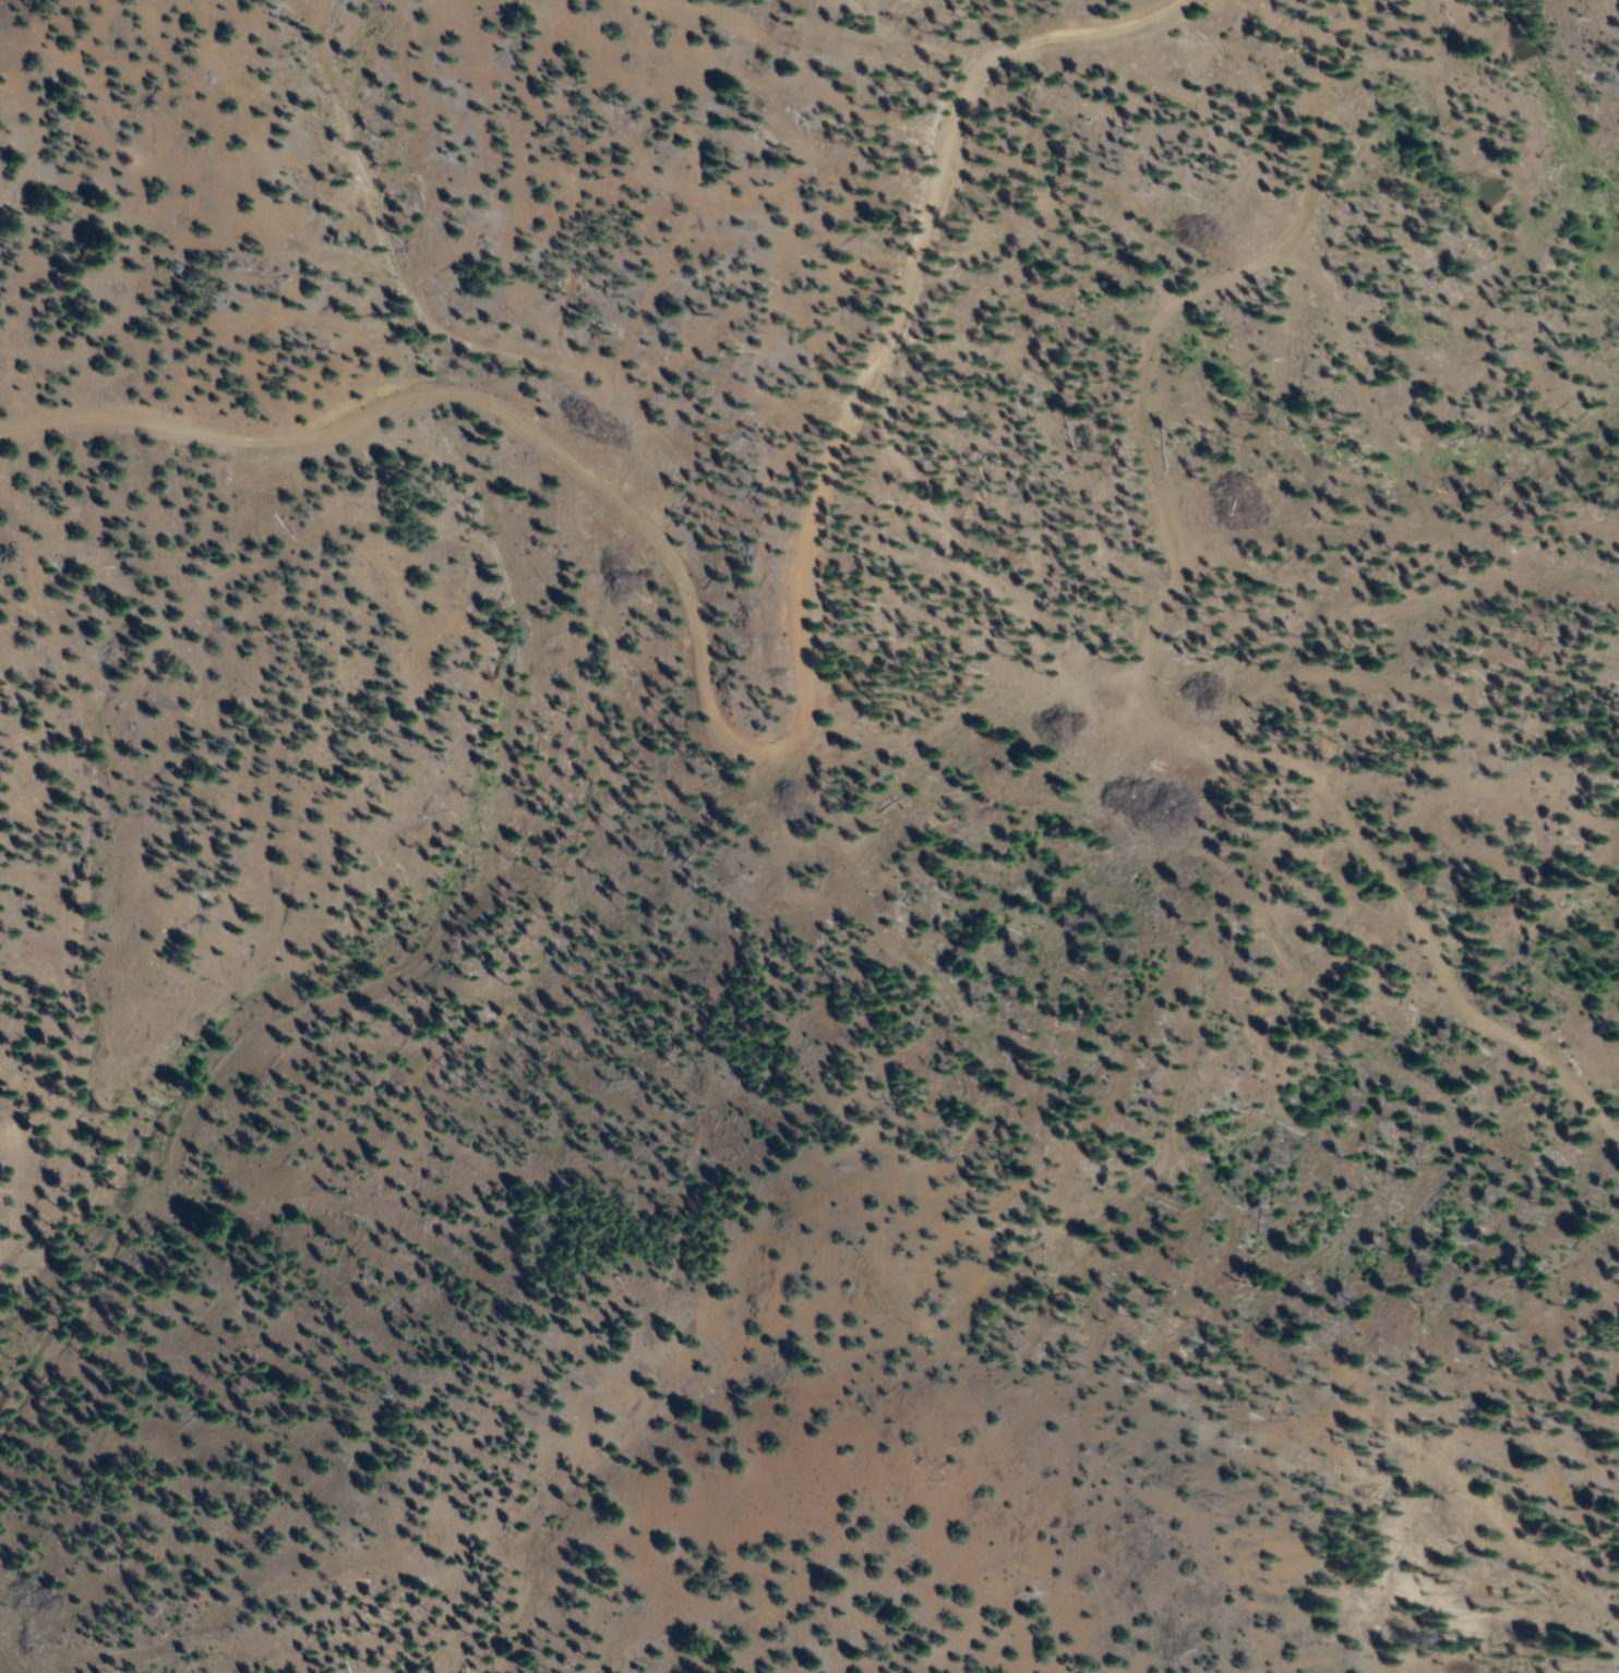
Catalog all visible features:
road: (751, 762)

